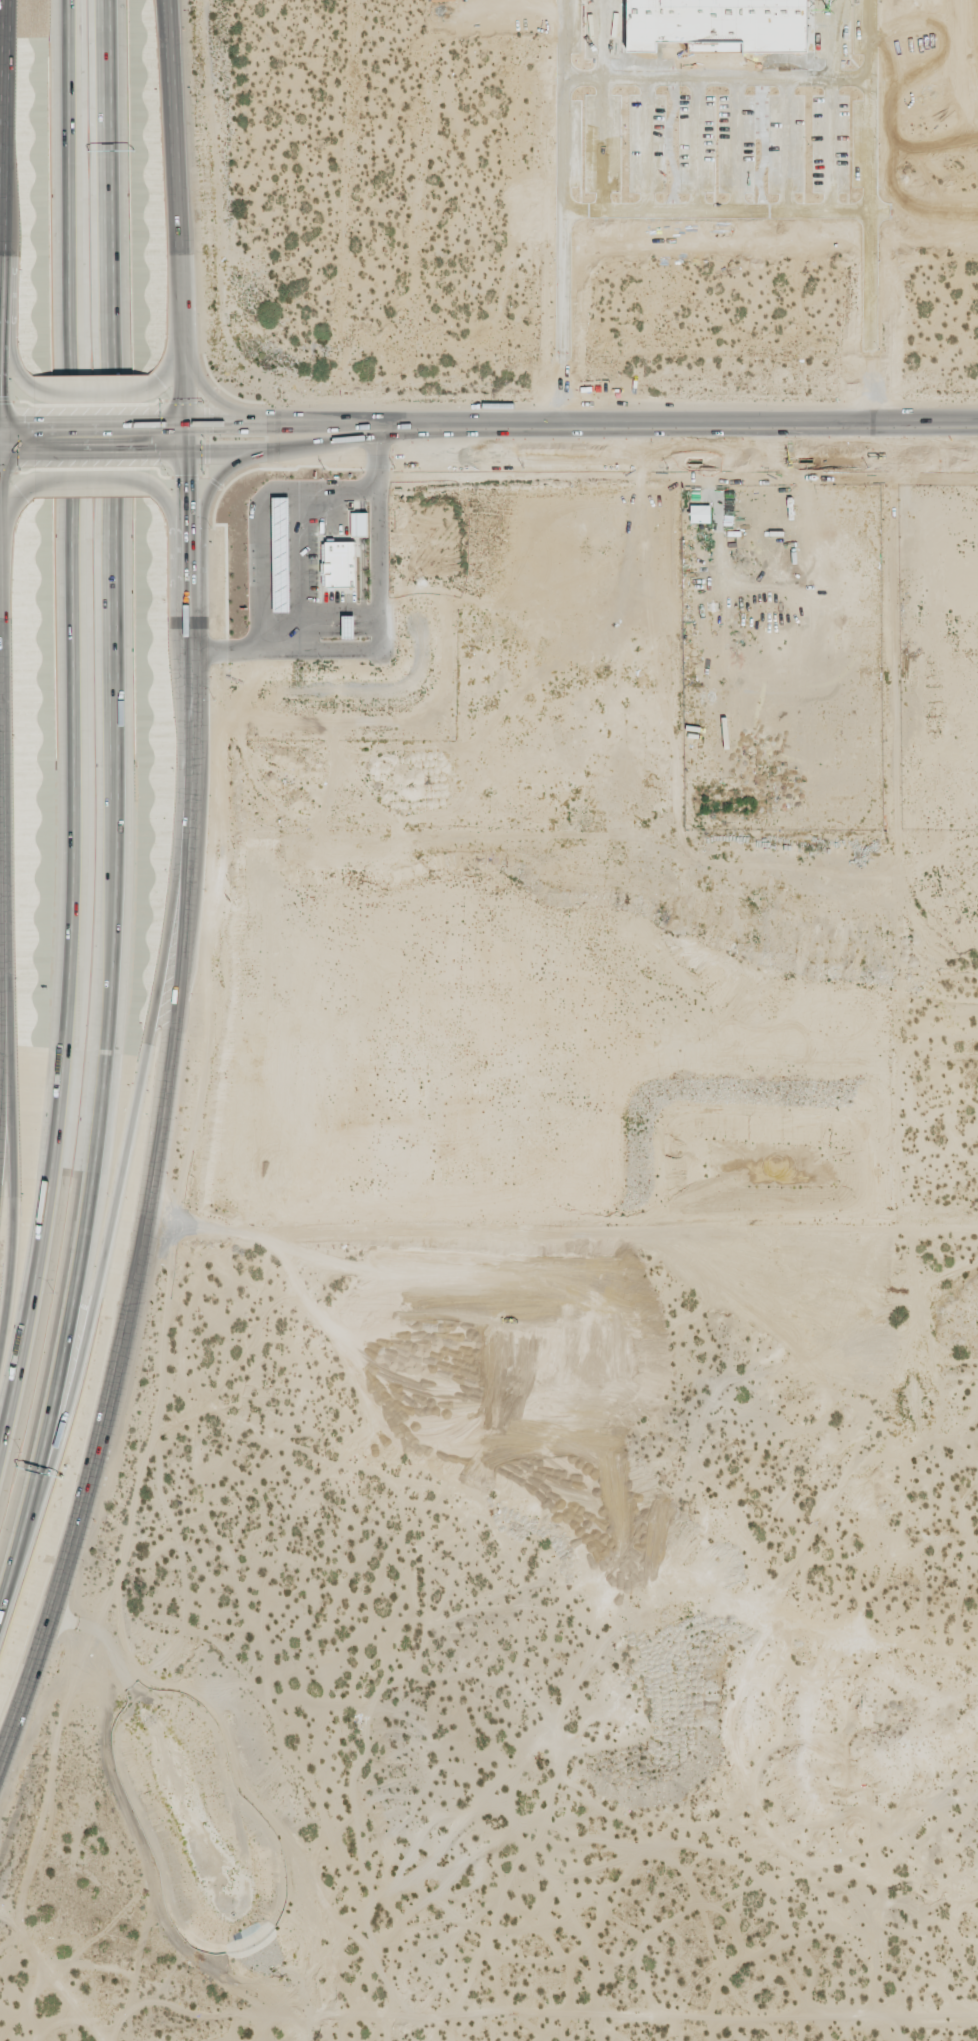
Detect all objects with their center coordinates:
building: (738, 199)
road: (2, 278)
road: (14, 361)
road: (169, 364)
road: (92, 391)
traffic signals: (0, 395)
road: (15, 421)
traffic signals: (31, 421)
road: (90, 421)
traffic signals: (212, 422)
road: (291, 423)
road: (705, 425)
road: (291, 445)
road: (18, 450)
road: (92, 450)
traffic signals: (149, 451)
road: (92, 481)
traffic signals: (187, 483)
road: (15, 496)
road: (172, 509)
building: (700, 514)
road: (262, 522)
building: (359, 524)
building: (280, 554)
building: (338, 565)
building: (347, 627)
road: (71, 722)
road: (118, 809)
road: (185, 890)
road: (4, 920)
road: (14, 1189)
road: (112, 1215)

